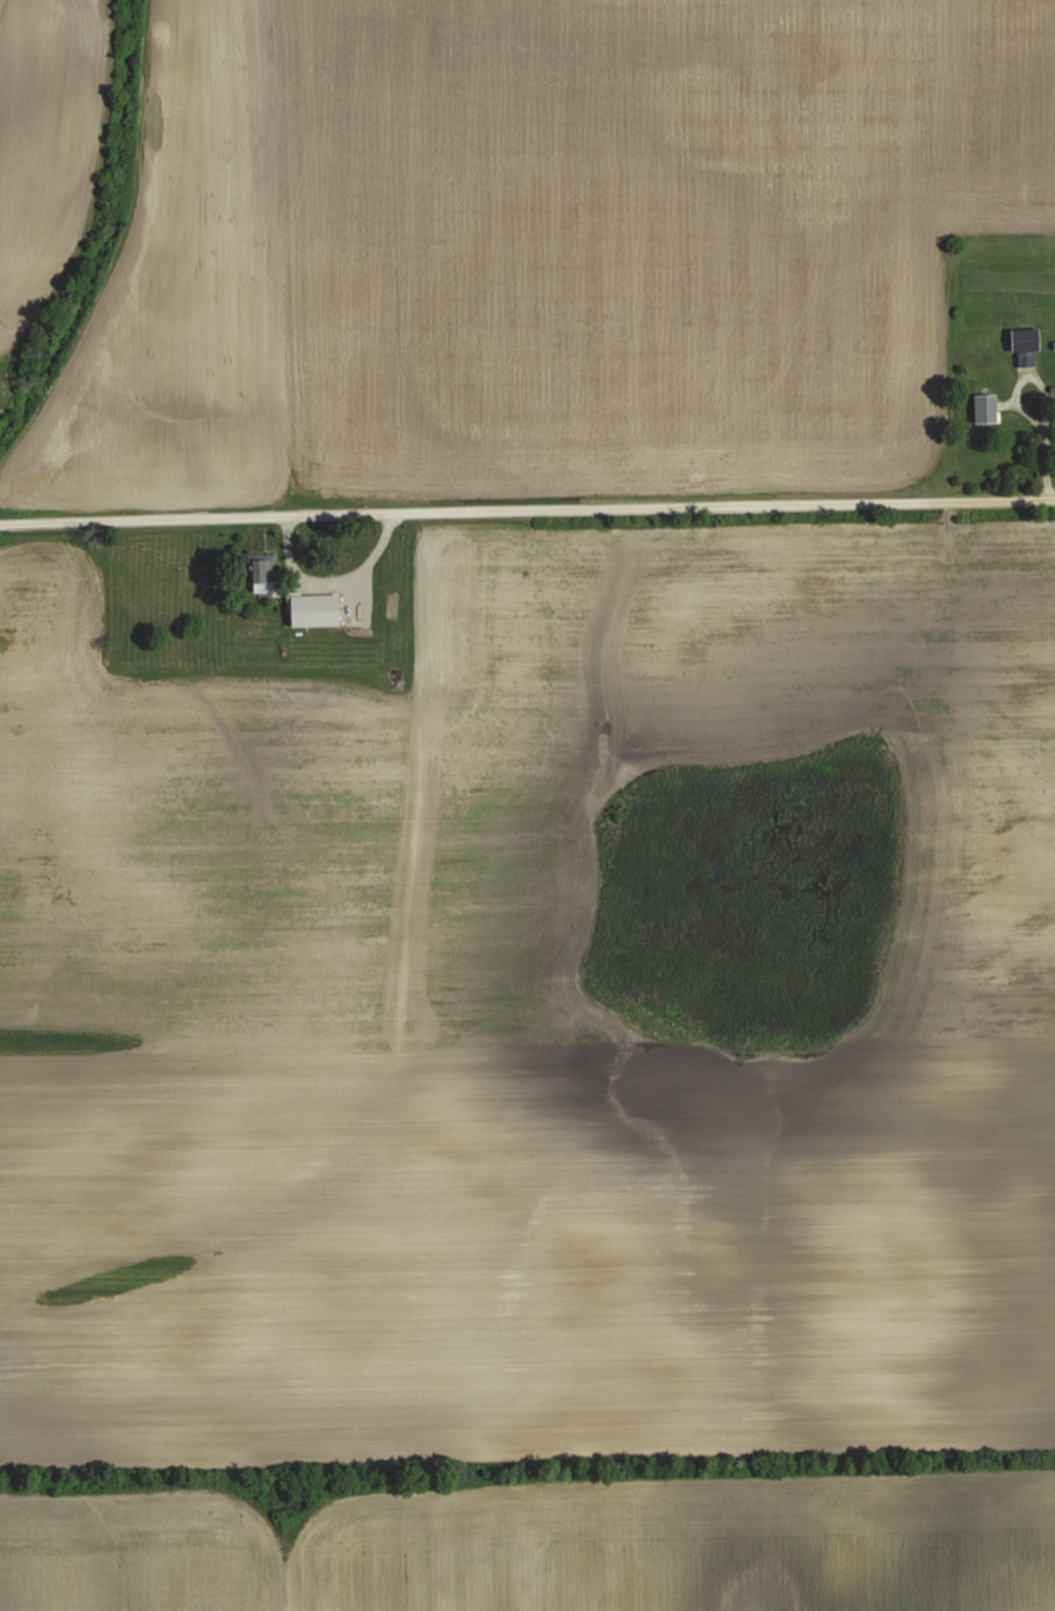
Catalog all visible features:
building: (1025, 344)
building: (985, 406)
road: (527, 511)
building: (264, 574)
building: (314, 607)

